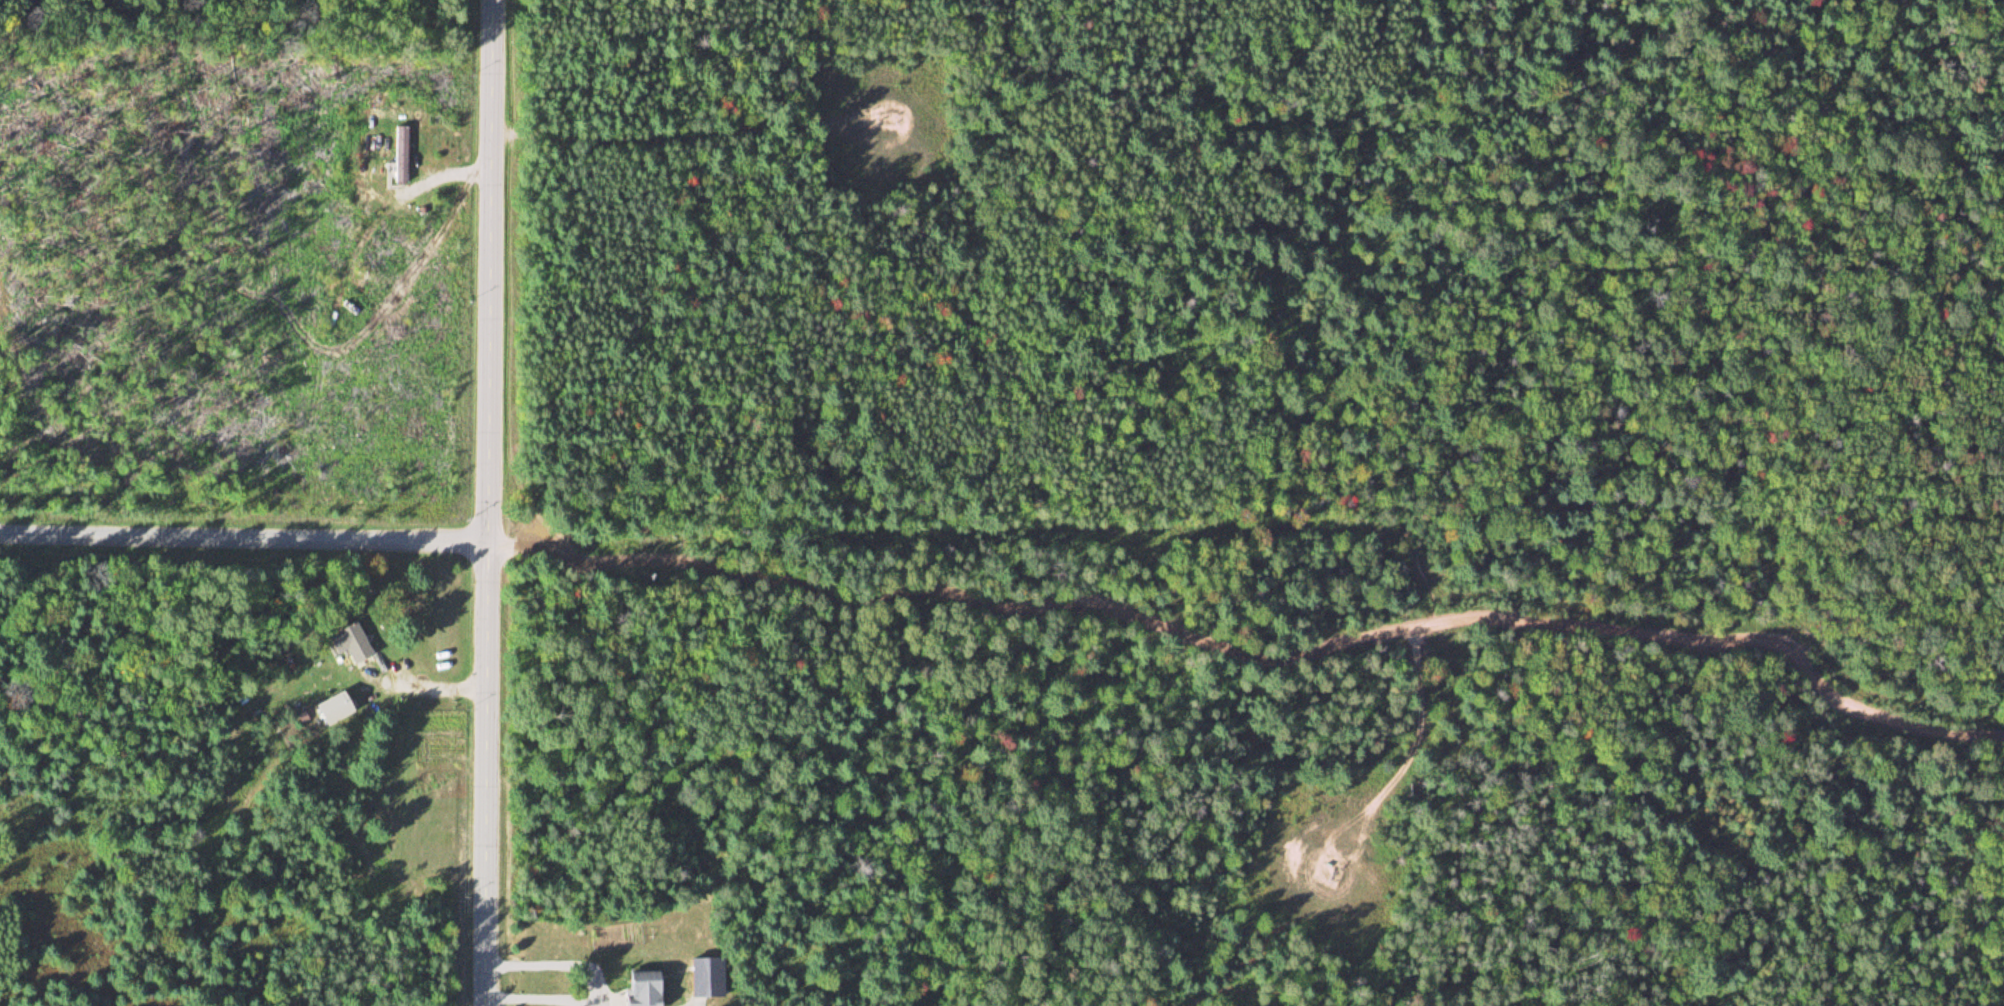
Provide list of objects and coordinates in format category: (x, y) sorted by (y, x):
road: (764, 125)
building: (401, 153)
road: (489, 502)
road: (244, 537)
building: (347, 641)
road: (1258, 667)
building: (334, 707)
building: (706, 976)
building: (642, 988)

